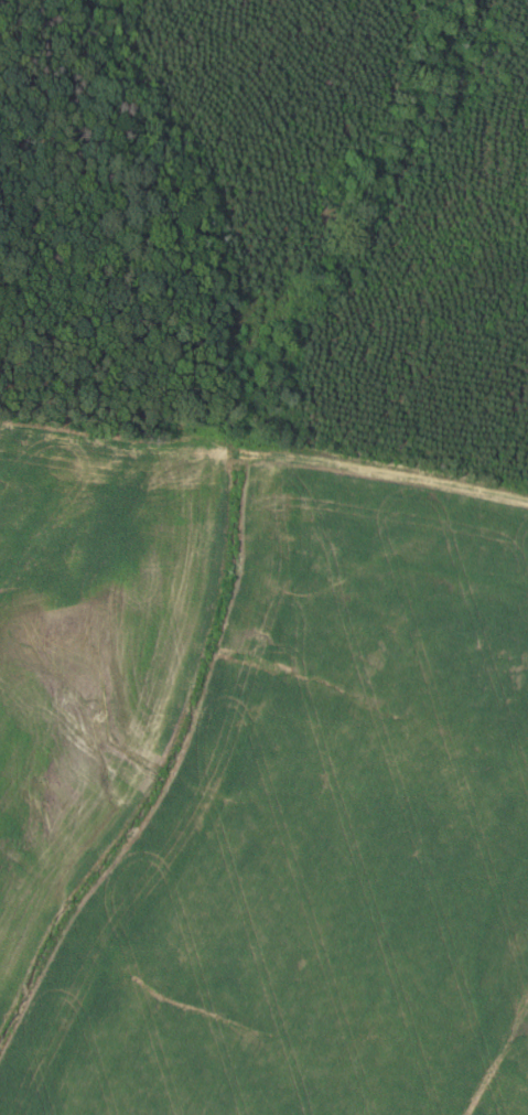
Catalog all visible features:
crop: (259, 782)

